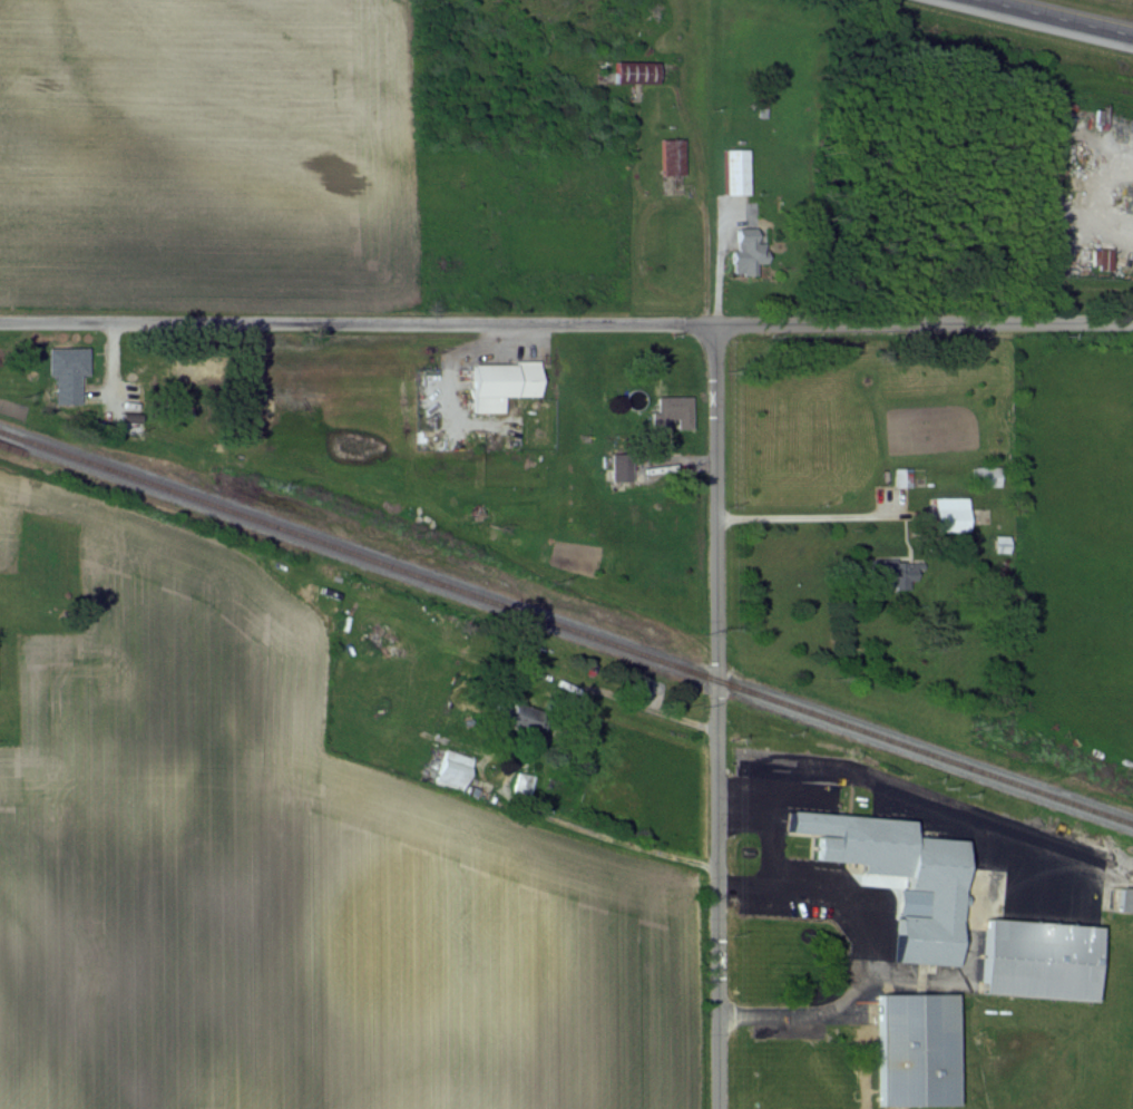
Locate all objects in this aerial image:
road: (1056, 19)
building: (639, 70)
building: (674, 156)
building: (739, 171)
building: (751, 250)
road: (720, 265)
road: (566, 324)
building: (69, 372)
building: (505, 382)
building: (676, 410)
building: (623, 466)
building: (905, 476)
building: (954, 514)
road: (802, 517)
building: (898, 571)
railway: (567, 629)
road: (716, 717)
road: (541, 766)
building: (456, 768)
building: (525, 782)
road: (769, 794)
building: (905, 874)
building: (1126, 899)
road: (868, 949)
building: (1044, 959)
building: (921, 1049)

